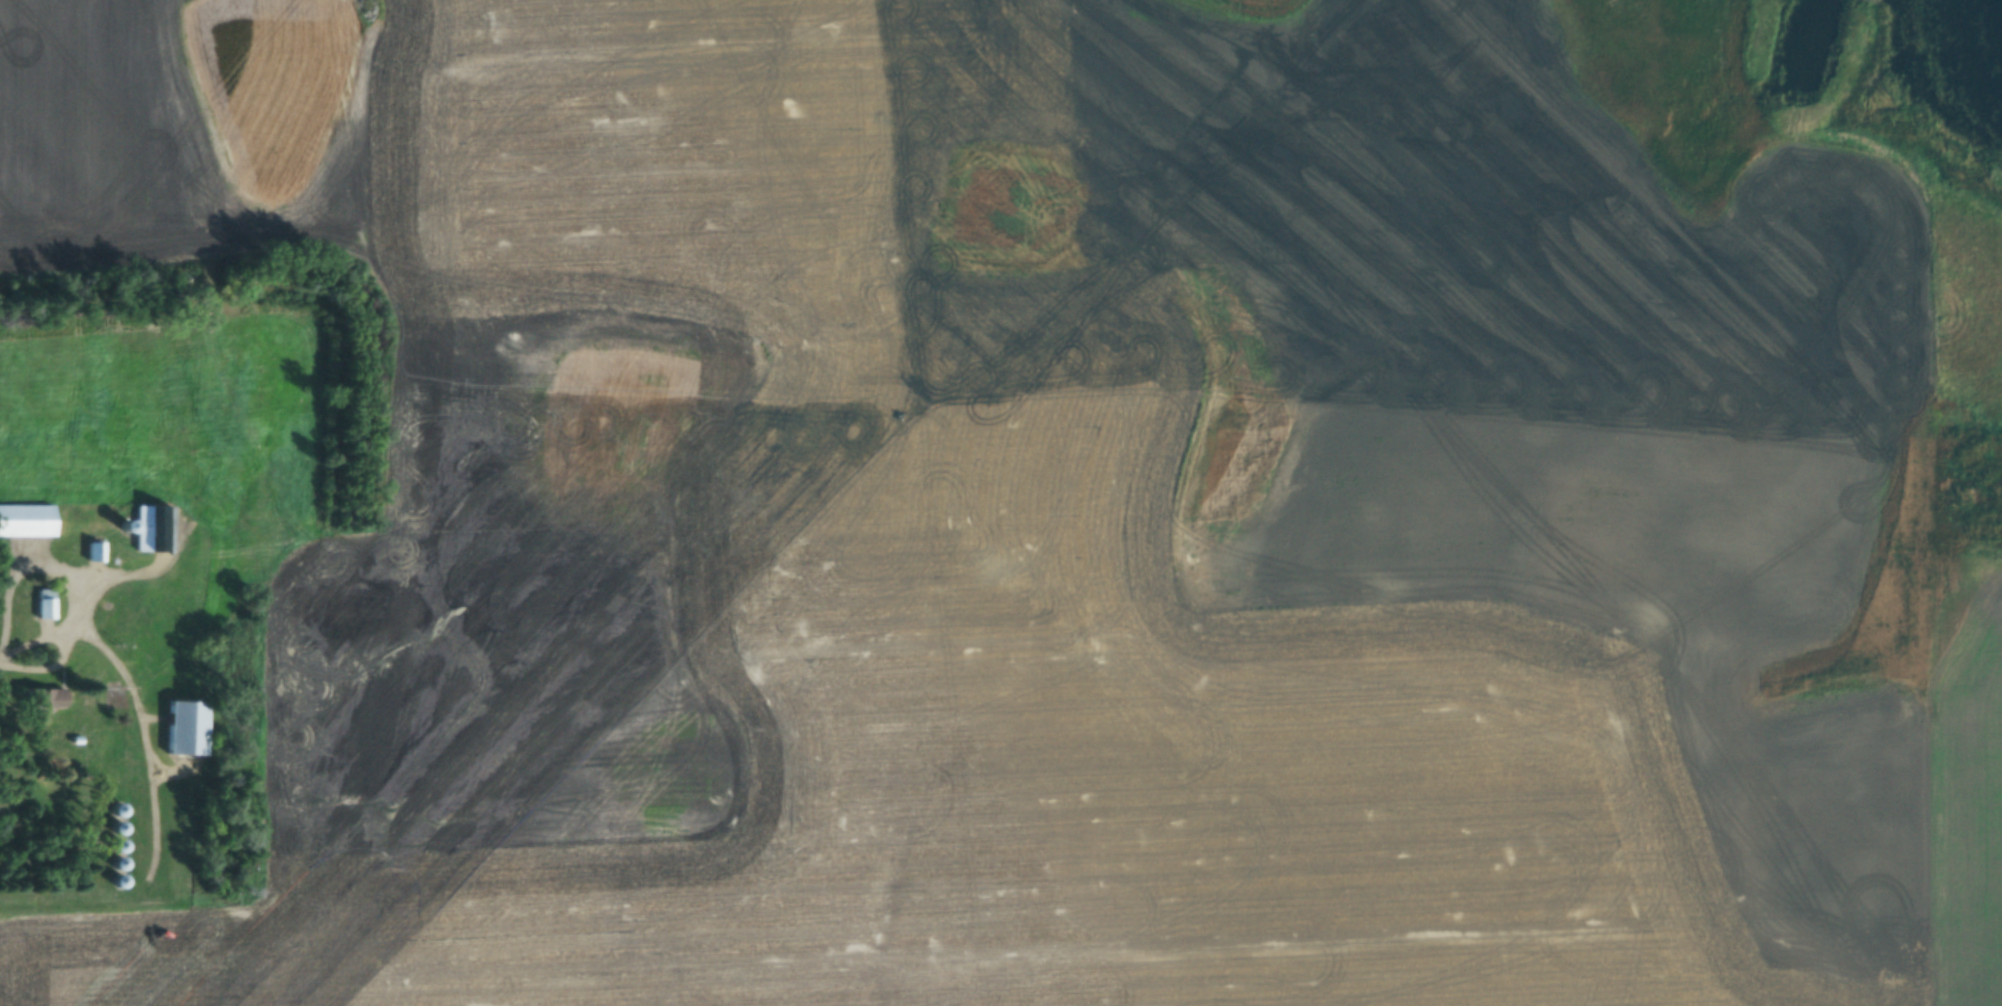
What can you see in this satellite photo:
building: (26, 519)
building: (158, 528)
building: (93, 551)
building: (44, 607)
building: (177, 615)
building: (39, 697)
building: (184, 728)
building: (115, 810)
building: (115, 827)

